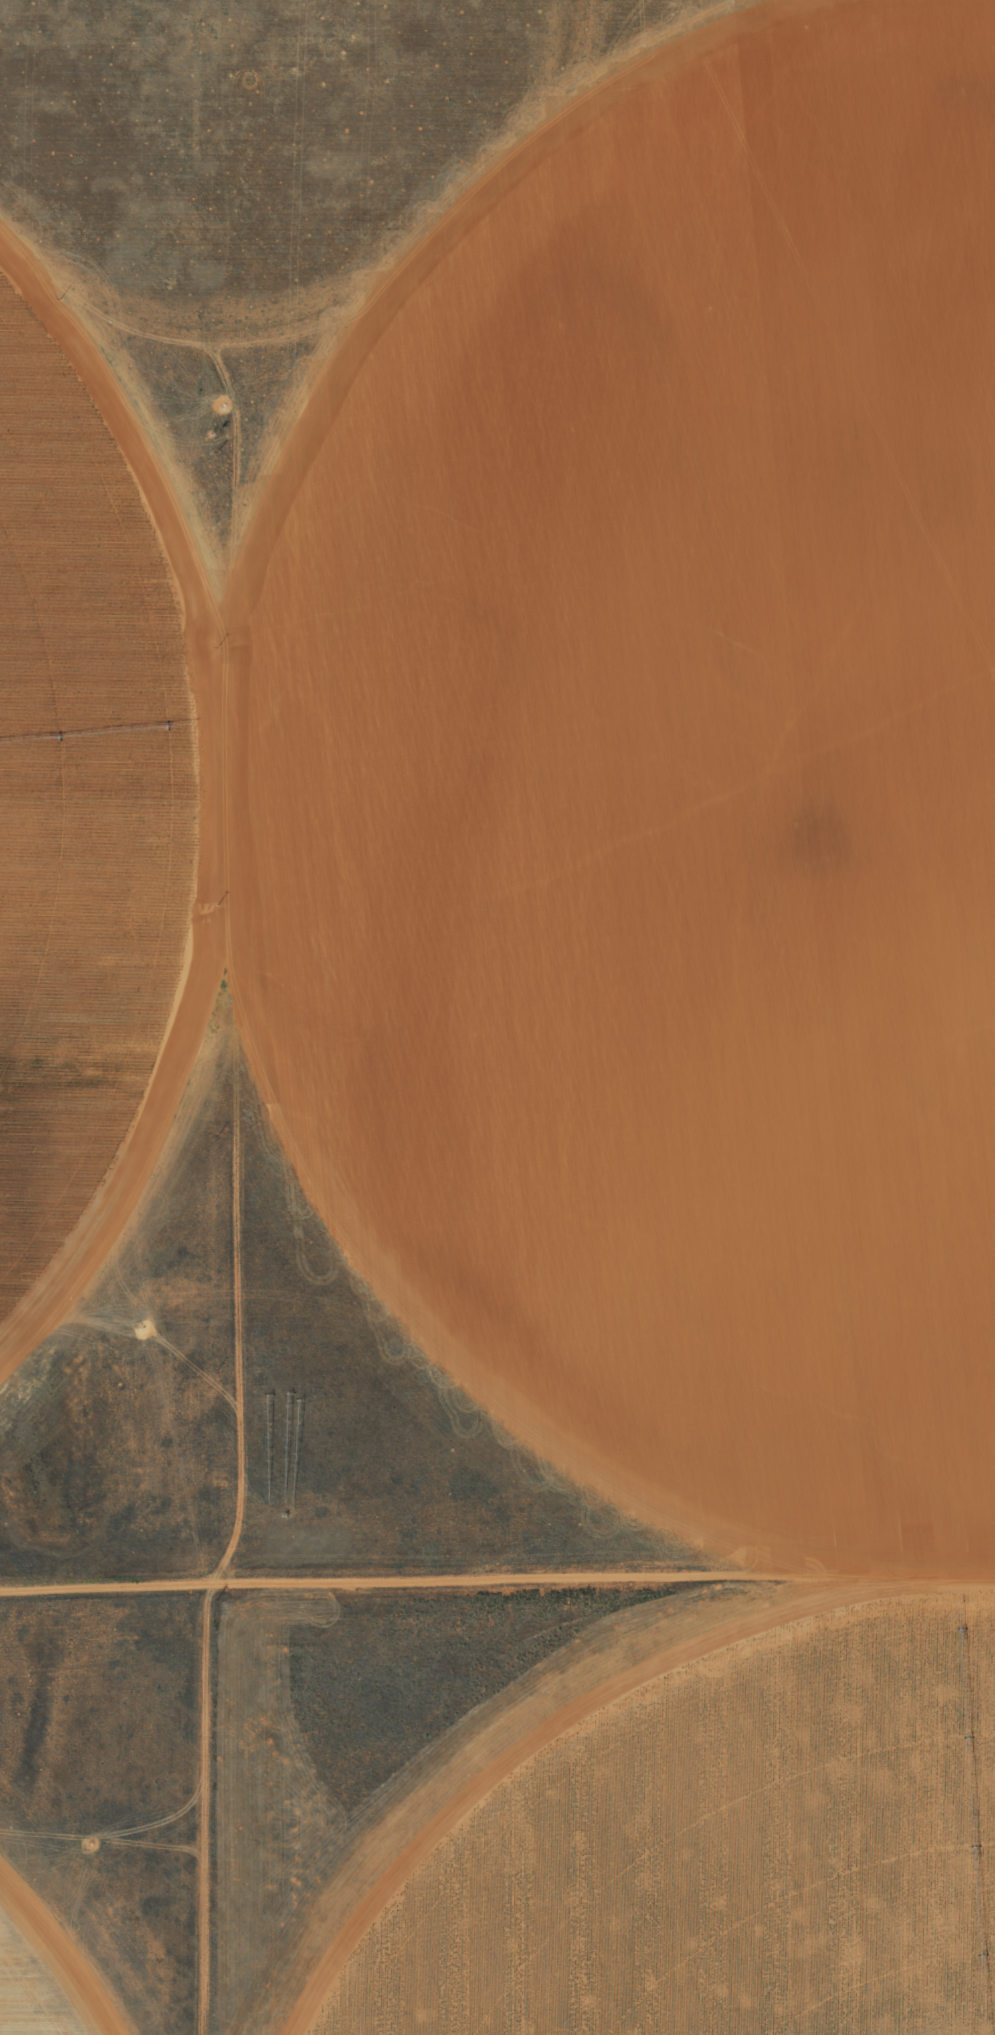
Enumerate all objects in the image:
road: (497, 1593)

